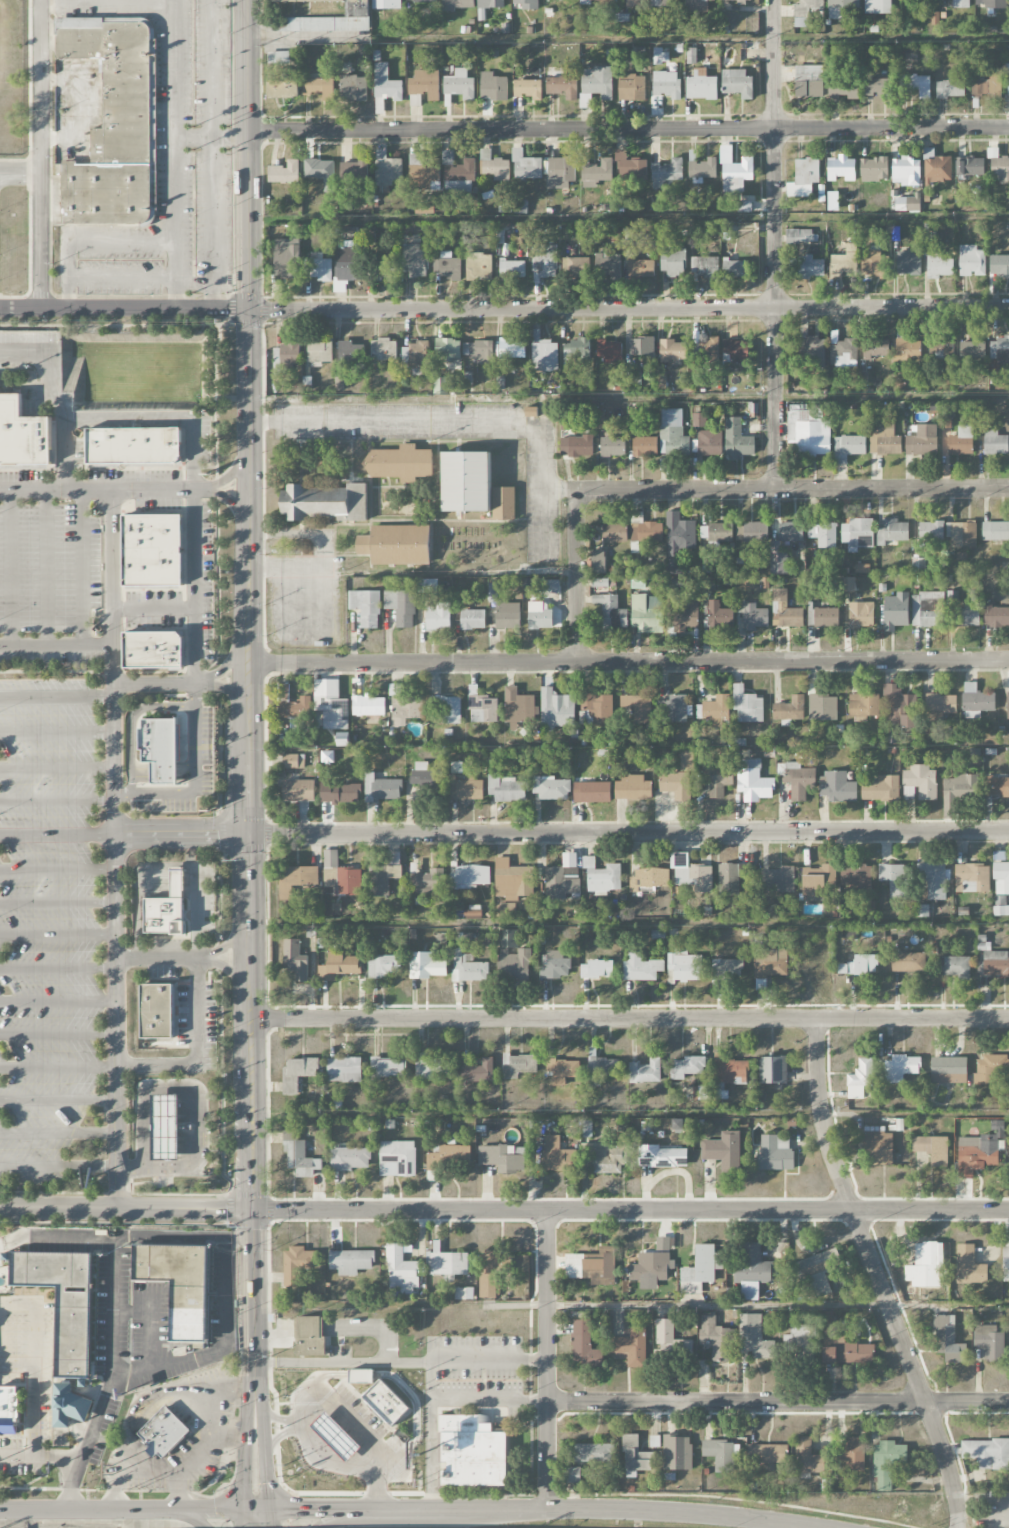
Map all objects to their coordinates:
road: (107, 1)
building: (422, 1)
building: (736, 1)
building: (596, 2)
building: (634, 3)
building: (663, 3)
building: (960, 3)
building: (992, 3)
building: (386, 4)
building: (458, 4)
building: (490, 4)
building: (525, 4)
building: (696, 6)
building: (877, 6)
building: (840, 7)
building: (807, 11)
building: (358, 16)
building: (305, 24)
road: (306, 36)
building: (661, 56)
building: (278, 57)
building: (1008, 78)
building: (809, 81)
building: (737, 83)
building: (425, 84)
building: (666, 84)
building: (460, 85)
building: (563, 85)
building: (917, 85)
building: (988, 85)
building: (596, 86)
building: (701, 86)
building: (385, 87)
building: (493, 87)
building: (631, 87)
building: (879, 87)
building: (283, 88)
building: (319, 88)
building: (353, 88)
building: (527, 89)
building: (844, 89)
building: (951, 89)
building: (111, 123)
road: (627, 130)
road: (210, 136)
road: (210, 152)
road: (41, 153)
road: (174, 153)
building: (999, 165)
road: (20, 166)
building: (494, 166)
building: (526, 166)
building: (970, 166)
building: (630, 167)
building: (841, 167)
building: (387, 169)
building: (703, 169)
building: (874, 169)
building: (665, 170)
building: (938, 170)
building: (735, 171)
building: (906, 171)
building: (284, 172)
building: (320, 172)
building: (422, 172)
building: (560, 172)
building: (597, 173)
building: (353, 174)
building: (458, 176)
building: (804, 178)
building: (907, 204)
building: (519, 206)
building: (612, 235)
building: (801, 236)
road: (86, 240)
road: (774, 243)
building: (501, 247)
building: (349, 255)
building: (286, 258)
building: (971, 259)
building: (414, 261)
building: (544, 262)
building: (844, 262)
building: (874, 262)
building: (673, 263)
building: (909, 263)
building: (999, 265)
building: (446, 266)
building: (478, 266)
building: (607, 266)
building: (939, 266)
building: (318, 267)
building: (575, 267)
building: (641, 267)
building: (704, 267)
building: (810, 267)
building: (735, 269)
building: (386, 270)
building: (512, 270)
road: (121, 275)
road: (193, 285)
road: (247, 294)
road: (124, 306)
road: (232, 307)
road: (628, 308)
road: (262, 309)
traffic signals: (248, 310)
road: (247, 321)
building: (511, 348)
building: (642, 348)
building: (875, 348)
building: (941, 348)
building: (384, 349)
building: (448, 349)
building: (576, 349)
building: (972, 349)
building: (999, 349)
building: (320, 350)
building: (908, 350)
building: (350, 351)
building: (480, 351)
building: (610, 351)
building: (673, 351)
building: (706, 351)
building: (813, 351)
building: (735, 352)
building: (844, 353)
building: (416, 354)
building: (545, 356)
building: (285, 357)
building: (635, 378)
building: (440, 386)
road: (55, 396)
road: (436, 419)
building: (698, 420)
building: (809, 431)
building: (22, 433)
building: (672, 433)
building: (884, 439)
building: (737, 440)
building: (922, 441)
building: (994, 442)
building: (709, 443)
building: (134, 444)
building: (576, 446)
building: (644, 446)
building: (612, 447)
building: (848, 448)
building: (401, 464)
road: (231, 474)
building: (466, 482)
road: (790, 487)
road: (105, 489)
road: (233, 502)
building: (326, 502)
building: (503, 503)
road: (543, 521)
building: (644, 529)
building: (994, 530)
building: (790, 531)
building: (892, 531)
building: (931, 531)
building: (717, 532)
building: (739, 532)
building: (755, 532)
building: (614, 533)
building: (679, 534)
building: (823, 534)
building: (857, 534)
building: (961, 534)
building: (396, 545)
building: (153, 549)
building: (598, 562)
road: (285, 565)
road: (82, 566)
building: (918, 566)
road: (10, 567)
road: (46, 567)
road: (574, 576)
road: (193, 583)
building: (599, 583)
building: (707, 583)
building: (849, 584)
building: (427, 586)
building: (551, 587)
building: (493, 596)
building: (952, 598)
road: (319, 599)
road: (250, 605)
building: (366, 607)
building: (401, 607)
road: (152, 608)
building: (928, 609)
building: (785, 610)
building: (896, 611)
building: (611, 612)
building: (646, 613)
building: (687, 615)
building: (861, 615)
building: (967, 615)
building: (995, 615)
building: (508, 616)
building: (539, 616)
building: (438, 617)
building: (718, 617)
building: (754, 617)
building: (826, 617)
building: (473, 619)
road: (55, 644)
building: (154, 649)
road: (630, 663)
road: (231, 664)
road: (160, 681)
road: (231, 693)
road: (56, 696)
building: (976, 698)
building: (331, 704)
building: (367, 705)
building: (864, 705)
building: (939, 706)
building: (518, 707)
building: (638, 707)
building: (899, 707)
building: (448, 708)
building: (595, 708)
building: (674, 708)
building: (749, 708)
building: (822, 708)
building: (295, 709)
building: (405, 709)
building: (1006, 709)
building: (556, 710)
building: (716, 710)
building: (789, 710)
road: (131, 721)
road: (56, 733)
building: (159, 739)
building: (343, 739)
building: (327, 757)
building: (293, 761)
road: (56, 766)
road: (164, 771)
building: (164, 772)
building: (425, 775)
building: (678, 777)
building: (719, 780)
building: (753, 781)
building: (799, 781)
building: (919, 782)
building: (961, 785)
building: (997, 786)
building: (837, 787)
building: (465, 788)
building: (506, 788)
building: (550, 788)
building: (633, 788)
building: (382, 789)
building: (880, 789)
building: (298, 791)
building: (340, 791)
building: (591, 792)
road: (56, 799)
road: (628, 833)
road: (57, 834)
road: (180, 834)
traffic signals: (247, 834)
road: (114, 848)
road: (57, 869)
building: (691, 873)
building: (383, 874)
building: (602, 876)
building: (1001, 876)
building: (340, 877)
building: (469, 877)
building: (732, 877)
building: (971, 877)
building: (650, 878)
building: (856, 878)
building: (894, 879)
building: (296, 880)
building: (512, 880)
building: (778, 880)
building: (933, 880)
building: (177, 881)
building: (817, 881)
building: (561, 882)
building: (427, 883)
road: (136, 888)
road: (57, 901)
building: (504, 910)
building: (472, 913)
building: (164, 915)
road: (57, 934)
building: (508, 938)
building: (489, 940)
road: (234, 942)
road: (164, 957)
building: (295, 960)
building: (908, 962)
building: (770, 963)
building: (995, 963)
building: (514, 964)
building: (338, 965)
building: (554, 965)
building: (860, 965)
building: (383, 966)
building: (427, 966)
building: (685, 966)
road: (57, 967)
building: (954, 967)
building: (468, 968)
building: (641, 968)
building: (596, 969)
building: (727, 969)
road: (234, 972)
road: (57, 1001)
building: (156, 1011)
road: (197, 1012)
road: (629, 1020)
road: (58, 1033)
road: (58, 1065)
building: (518, 1065)
building: (388, 1067)
building: (688, 1067)
building: (432, 1068)
building: (900, 1068)
building: (989, 1068)
building: (344, 1070)
building: (562, 1070)
building: (601, 1070)
building: (773, 1070)
building: (948, 1070)
building: (478, 1071)
building: (645, 1071)
building: (731, 1072)
building: (298, 1073)
building: (860, 1079)
building: (702, 1093)
road: (192, 1098)
road: (58, 1099)
building: (678, 1124)
building: (166, 1126)
gas station: (166, 1126)
building: (587, 1129)
road: (58, 1133)
building: (878, 1148)
building: (932, 1149)
building: (979, 1150)
building: (723, 1151)
building: (1008, 1151)
building: (775, 1153)
building: (299, 1156)
building: (450, 1156)
building: (556, 1156)
building: (605, 1157)
building: (662, 1157)
building: (397, 1158)
building: (503, 1158)
building: (350, 1159)
road: (58, 1166)
road: (126, 1209)
road: (631, 1209)
traffic signals: (254, 1210)
road: (223, 1236)
building: (350, 1262)
building: (447, 1263)
building: (1006, 1263)
building: (297, 1264)
building: (969, 1265)
building: (592, 1266)
building: (926, 1266)
building: (651, 1268)
building: (401, 1269)
building: (701, 1269)
building: (818, 1270)
building: (751, 1272)
building: (489, 1274)
road: (878, 1274)
building: (180, 1284)
building: (464, 1293)
road: (718, 1305)
road: (254, 1308)
road: (33, 1316)
road: (150, 1319)
building: (63, 1327)
building: (310, 1335)
building: (755, 1338)
building: (717, 1339)
building: (949, 1340)
building: (670, 1341)
building: (989, 1341)
building: (584, 1345)
building: (800, 1345)
building: (842, 1346)
building: (631, 1347)
road: (546, 1360)
road: (16, 1363)
road: (343, 1365)
parking lot: (467, 1366)
road: (111, 1377)
building: (361, 1377)
road: (430, 1379)
road: (196, 1390)
road: (777, 1401)
building: (385, 1403)
building: (9, 1409)
road: (32, 1409)
road: (281, 1420)
road: (351, 1425)
building: (163, 1432)
road: (282, 1433)
road: (228, 1437)
building: (336, 1437)
gas station: (336, 1437)
road: (110, 1440)
building: (987, 1452)
road: (127, 1453)
building: (593, 1453)
building: (677, 1453)
road: (42, 1454)
building: (473, 1454)
building: (767, 1454)
building: (851, 1454)
building: (720, 1455)
road: (246, 1456)
road: (264, 1456)
road: (195, 1457)
building: (635, 1457)
building: (808, 1457)
building: (887, 1462)
road: (344, 1466)
building: (572, 1475)
road: (180, 1488)
traffic signals: (244, 1489)
road: (205, 1509)
road: (256, 1509)
traffic signals: (286, 1509)
road: (311, 1509)
road: (83, 1510)
road: (411, 1510)
road: (506, 1512)
road: (679, 1512)
road: (185, 1517)
road: (244, 1518)
road: (268, 1518)
road: (337, 1518)
traffic signals: (268, 1527)

